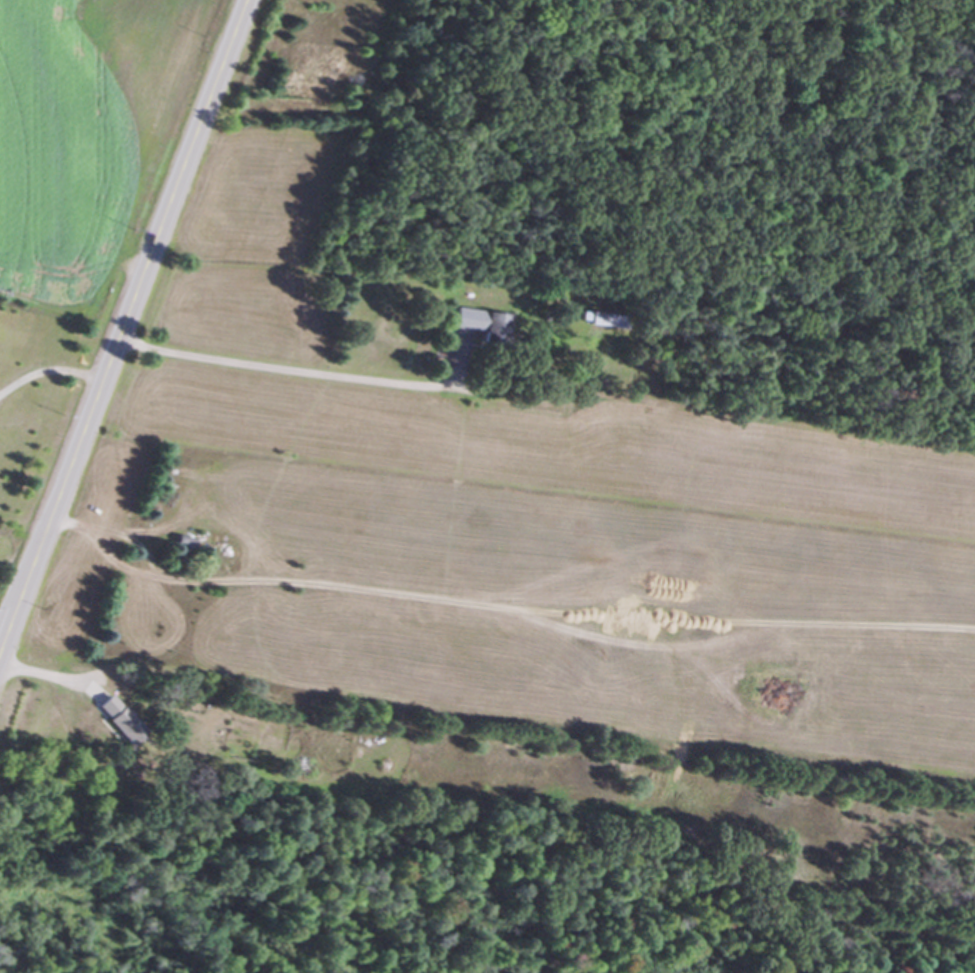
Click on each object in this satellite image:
building: (602, 318)
road: (120, 322)
building: (480, 324)
road: (48, 366)
road: (280, 375)
building: (181, 542)
road: (132, 543)
road: (48, 674)
building: (116, 719)

